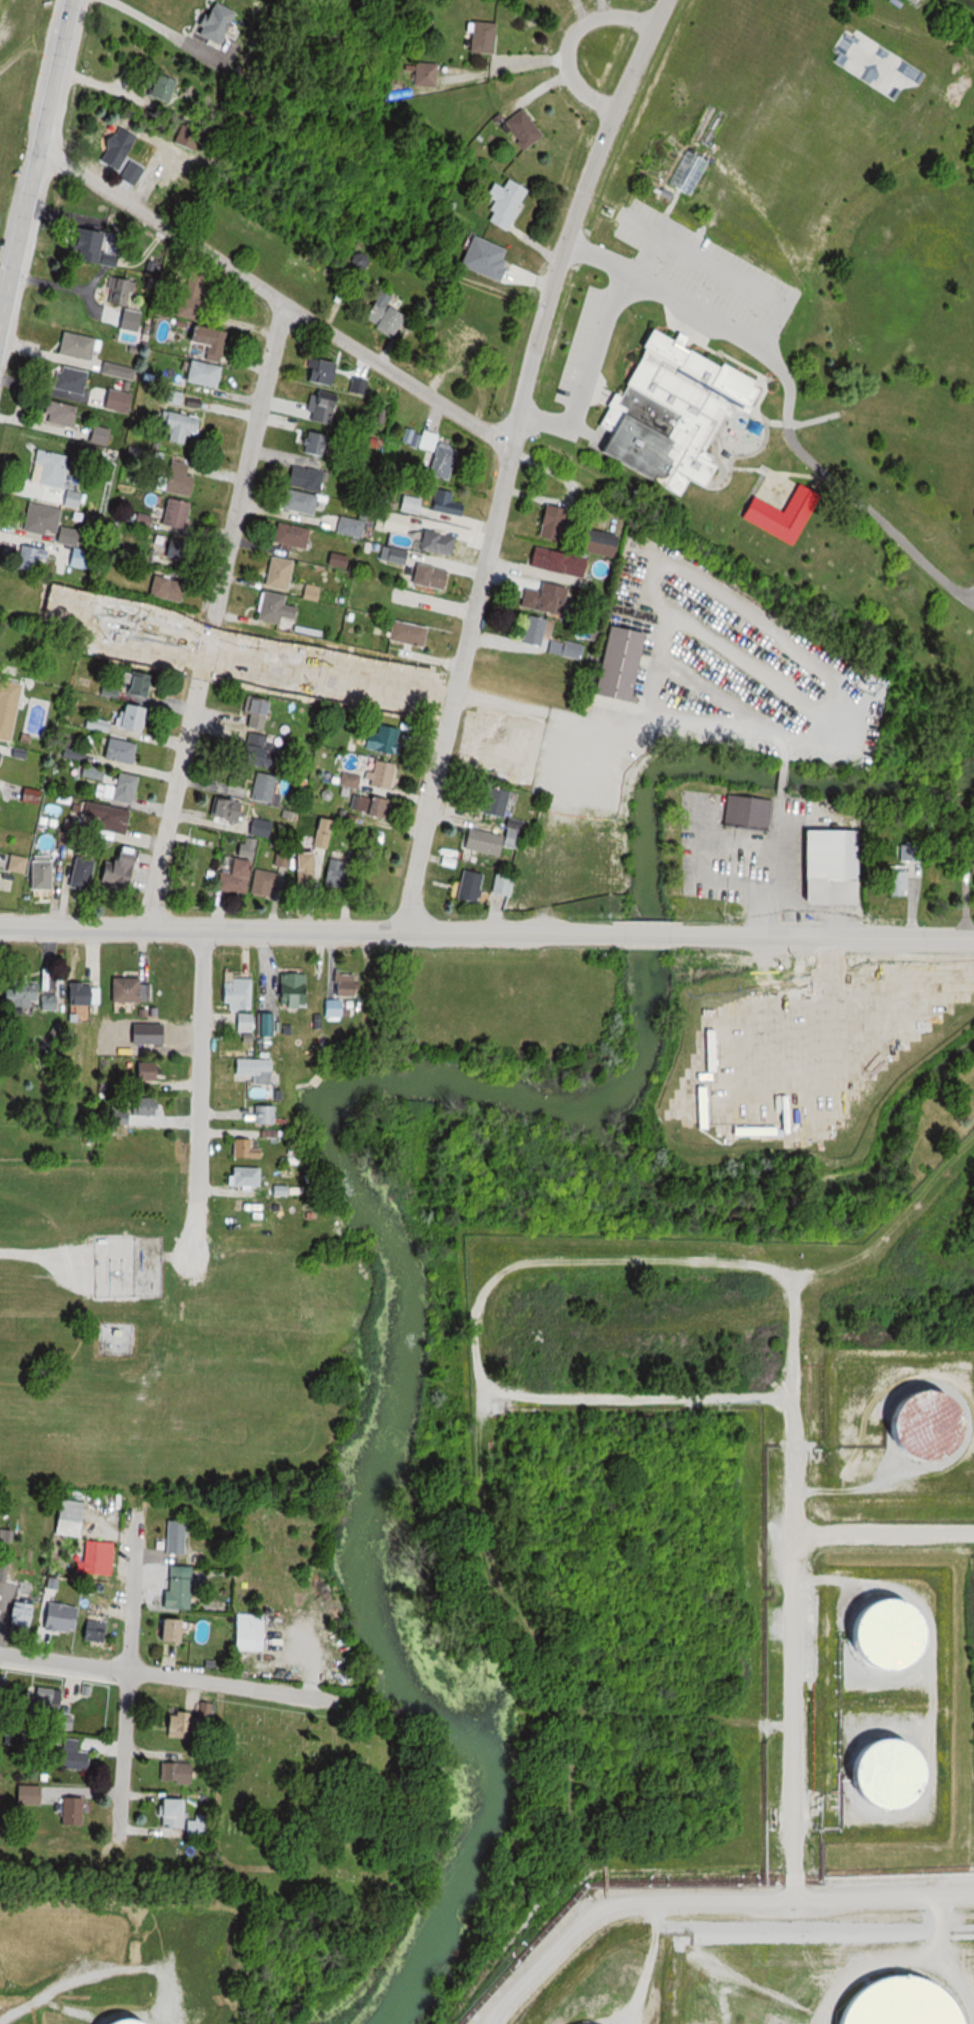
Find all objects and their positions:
road: (55, 74)
road: (160, 226)
road: (19, 236)
road: (395, 376)
park: (778, 408)
road: (212, 616)
road: (73, 927)
road: (174, 929)
road: (304, 930)
road: (198, 1086)
road: (132, 1588)
storage tank: (897, 1630)
road: (65, 1661)
road: (230, 1684)
road: (125, 1750)
storage tank: (899, 1775)
park: (350, 1792)
storage tank: (908, 1999)
storage tank: (605, 2023)

